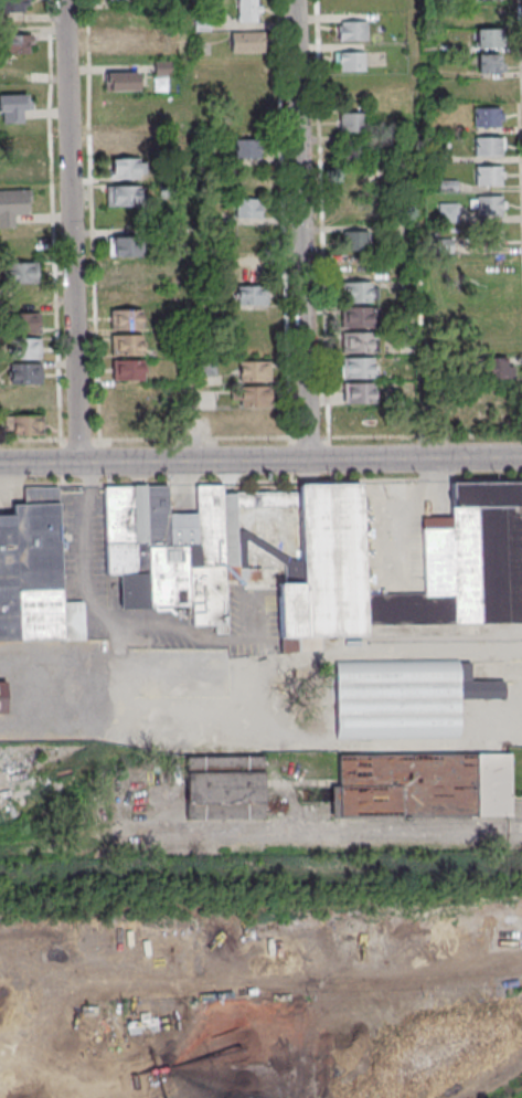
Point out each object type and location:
building: (120, 0)
building: (489, 0)
building: (13, 4)
building: (248, 10)
road: (521, 10)
building: (488, 13)
building: (352, 30)
building: (490, 40)
building: (247, 41)
building: (17, 43)
building: (122, 43)
building: (349, 61)
building: (491, 65)
building: (162, 68)
building: (125, 84)
building: (13, 107)
building: (489, 118)
building: (352, 122)
building: (19, 145)
building: (122, 145)
building: (248, 148)
building: (491, 148)
building: (354, 152)
building: (126, 170)
building: (19, 171)
building: (491, 177)
building: (127, 198)
building: (13, 205)
building: (492, 207)
building: (247, 208)
road: (323, 219)
road: (305, 229)
road: (422, 229)
road: (191, 230)
road: (72, 231)
building: (487, 236)
building: (352, 241)
building: (127, 249)
building: (251, 260)
building: (125, 270)
building: (22, 272)
building: (359, 292)
building: (252, 295)
building: (361, 316)
building: (129, 321)
building: (26, 326)
building: (358, 341)
building: (130, 347)
building: (28, 350)
building: (209, 367)
building: (358, 367)
building: (496, 369)
building: (255, 370)
building: (131, 372)
building: (29, 376)
building: (358, 392)
building: (122, 393)
building: (254, 395)
building: (30, 401)
building: (30, 429)
road: (260, 439)
road: (260, 458)
road: (83, 528)
building: (312, 556)
building: (31, 567)
building: (76, 620)
building: (405, 695)
building: (3, 697)
building: (418, 785)
building: (224, 788)

